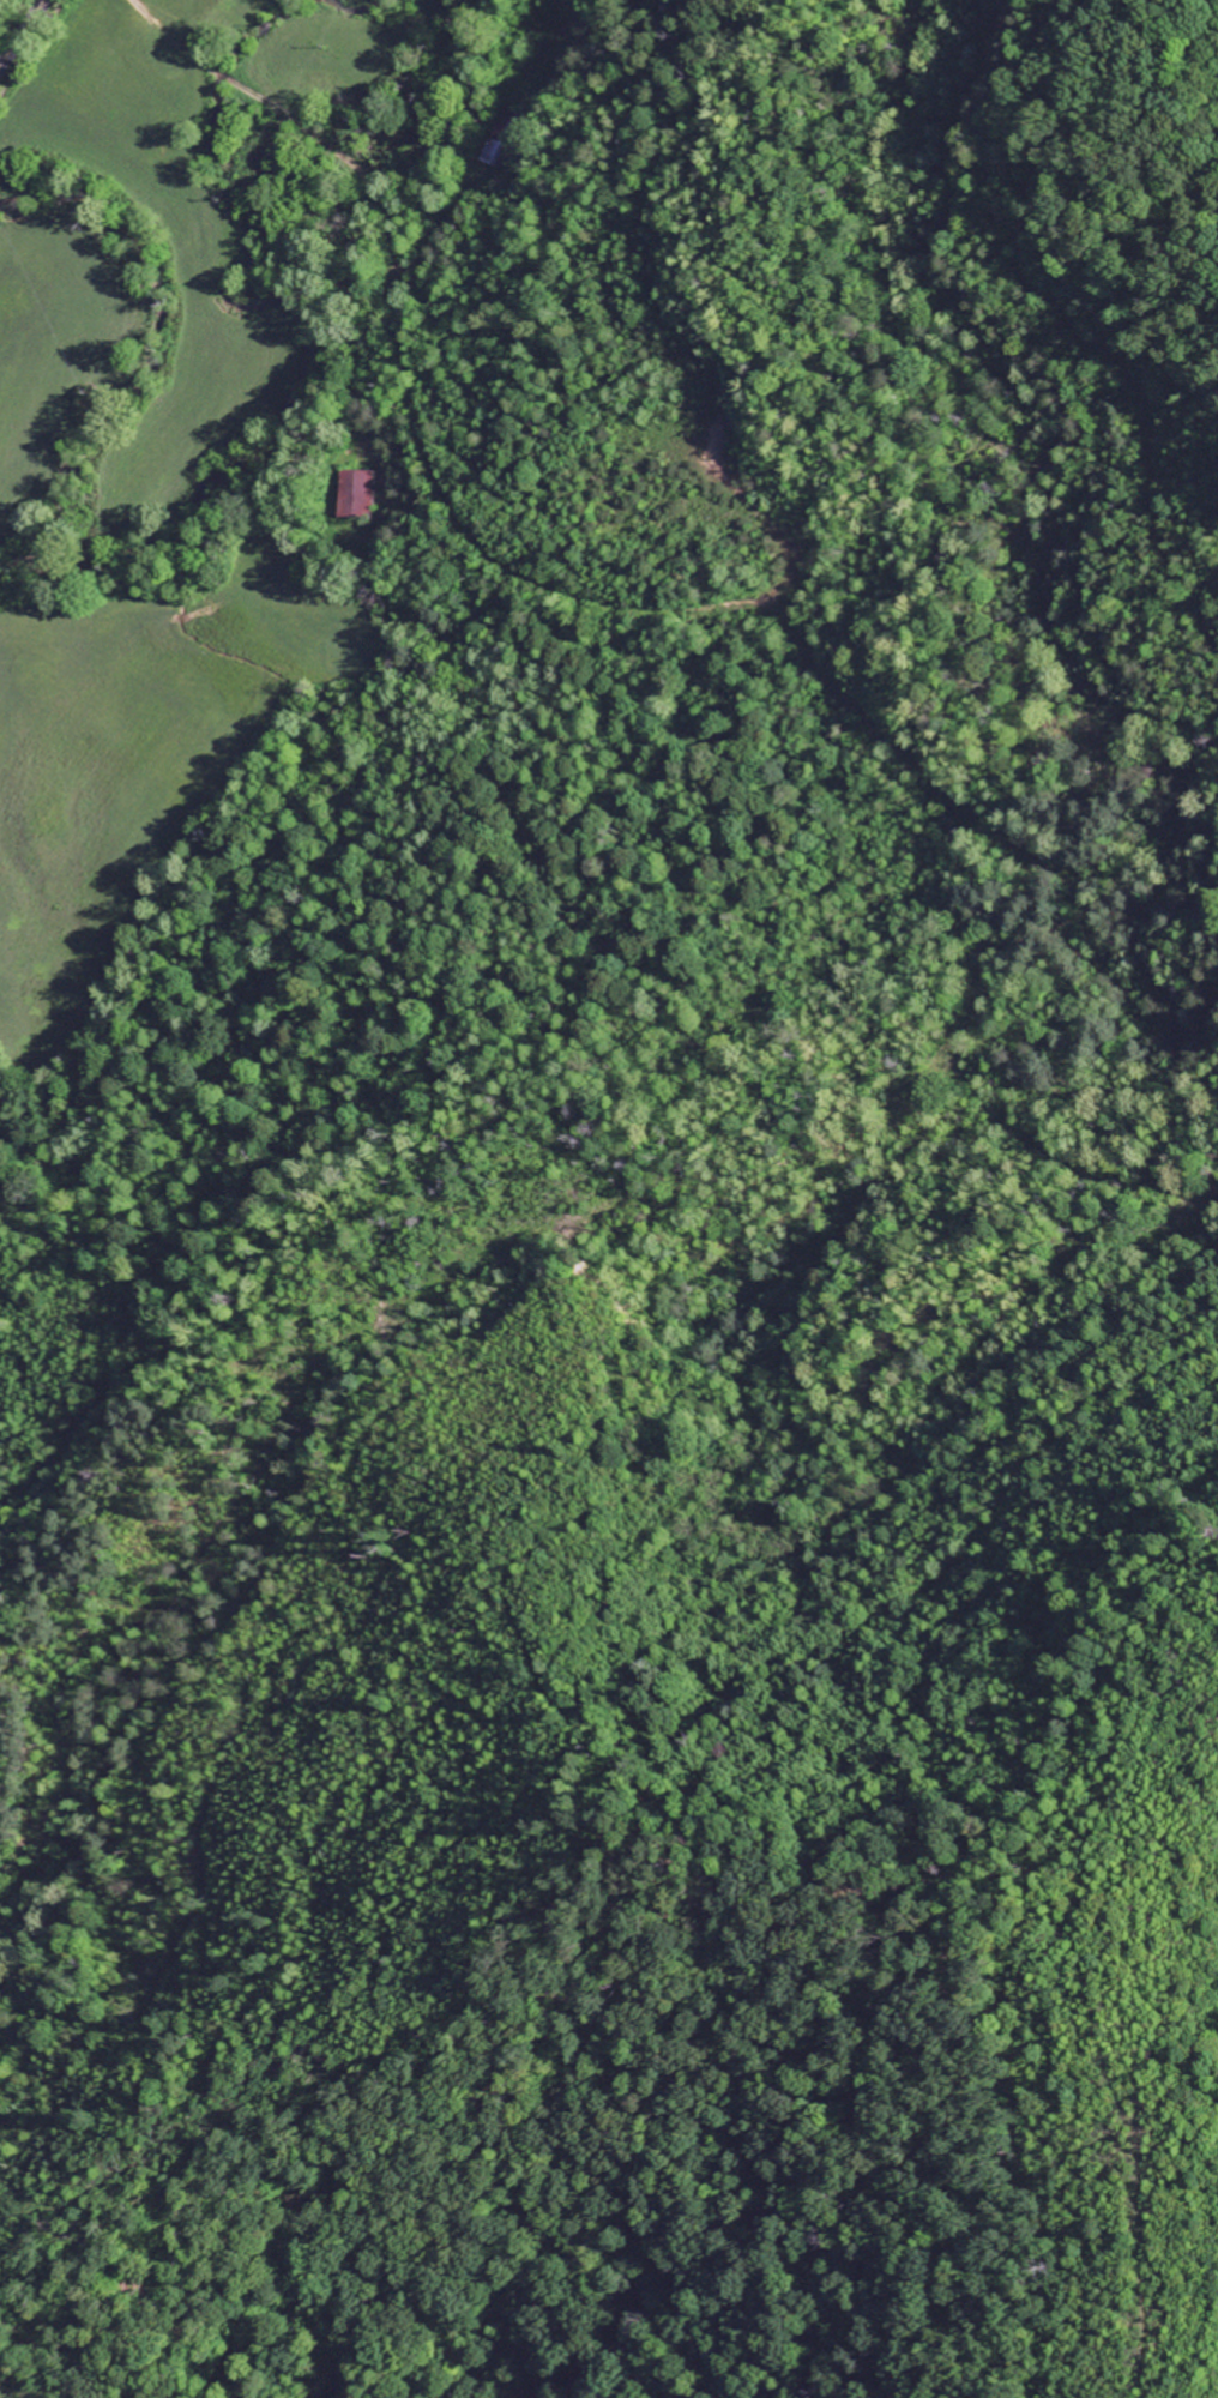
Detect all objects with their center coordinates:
road: (23, 34)
building: (360, 494)

